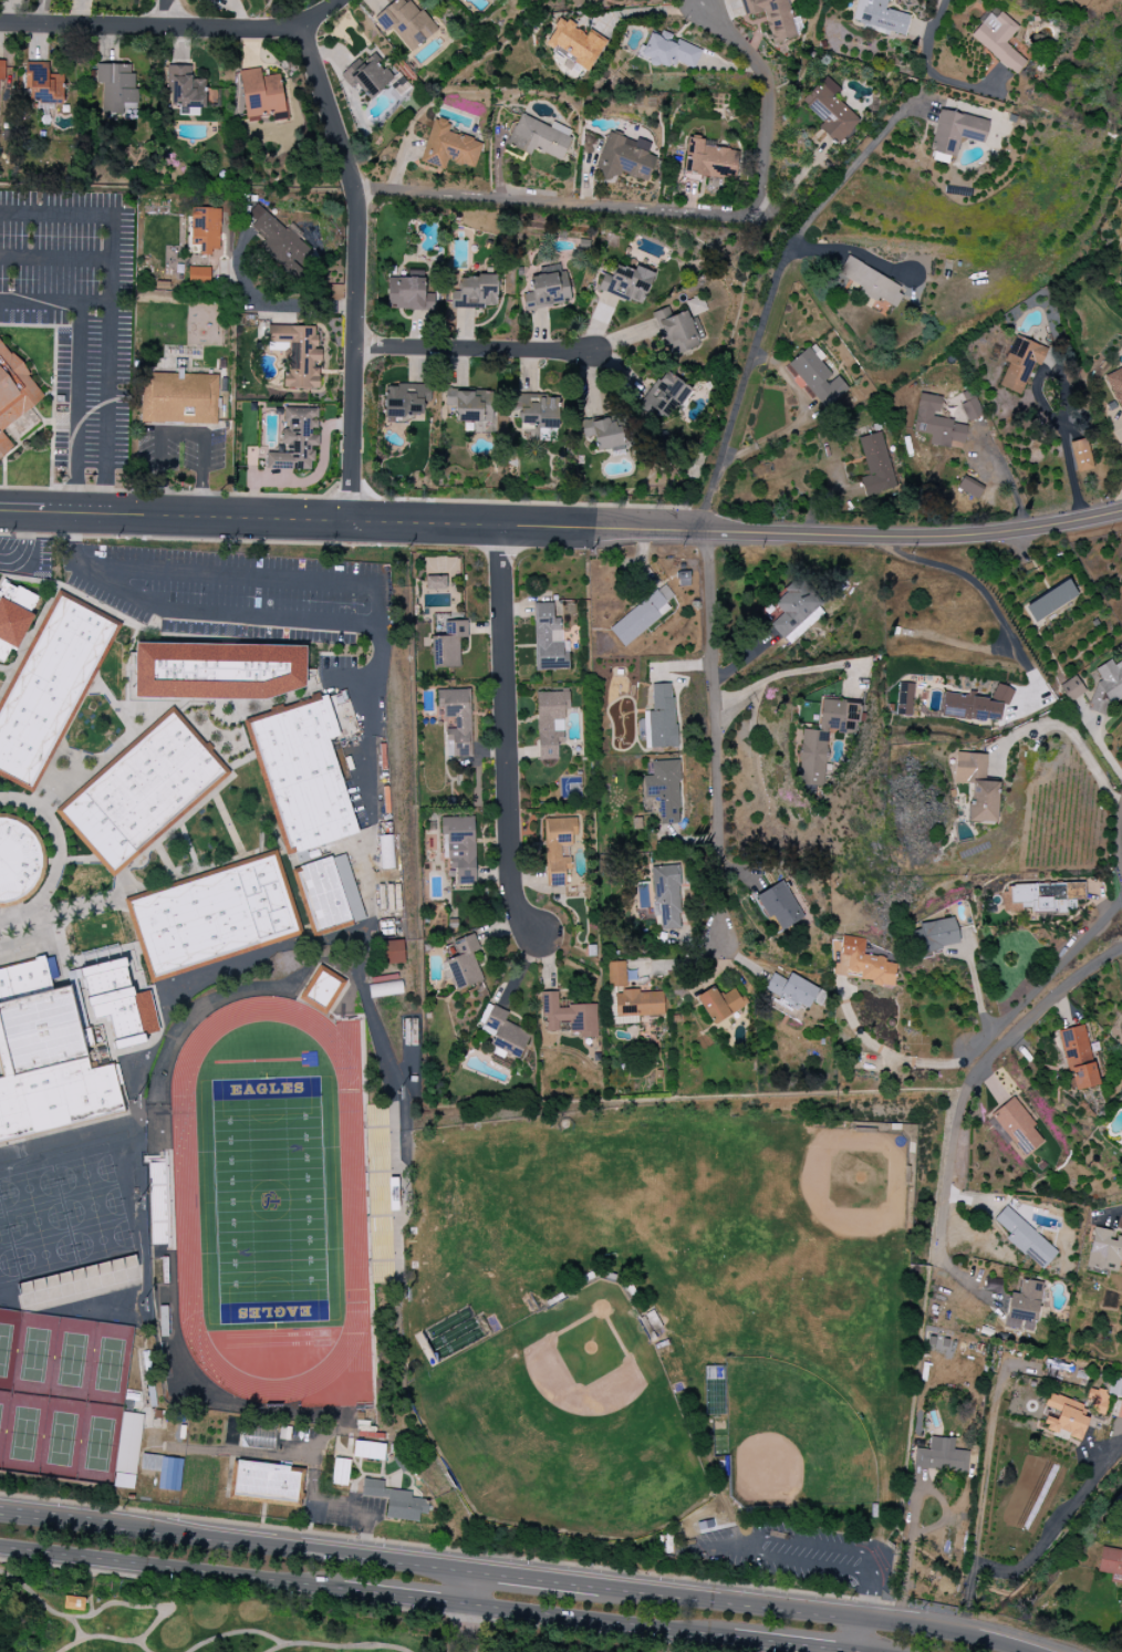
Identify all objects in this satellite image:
road: (39, 11)
road: (647, 11)
road: (169, 13)
building: (772, 17)
building: (879, 17)
building: (406, 23)
road: (937, 24)
road: (174, 27)
building: (998, 39)
building: (574, 43)
building: (669, 51)
building: (367, 76)
building: (42, 84)
building: (0, 85)
building: (115, 86)
building: (184, 91)
building: (260, 93)
road: (762, 96)
building: (830, 111)
building: (954, 134)
building: (539, 137)
building: (448, 147)
building: (624, 157)
building: (708, 159)
road: (552, 202)
building: (205, 229)
building: (279, 242)
road: (54, 257)
road: (359, 267)
building: (198, 276)
building: (871, 282)
building: (626, 283)
building: (546, 290)
building: (474, 291)
building: (409, 292)
road: (769, 297)
road: (54, 302)
building: (695, 305)
road: (107, 309)
road: (280, 309)
building: (674, 332)
road: (944, 341)
road: (475, 350)
building: (297, 354)
building: (1020, 363)
building: (815, 377)
road: (53, 380)
building: (1115, 385)
building: (13, 393)
building: (665, 394)
building: (178, 398)
building: (405, 399)
building: (461, 404)
road: (76, 408)
building: (970, 409)
building: (536, 411)
road: (1050, 413)
building: (936, 423)
building: (610, 434)
road: (180, 437)
building: (294, 440)
building: (1081, 455)
building: (875, 465)
building: (969, 488)
road: (176, 492)
road: (562, 528)
road: (263, 541)
road: (24, 546)
road: (248, 574)
building: (435, 584)
road: (983, 591)
parking lot: (292, 596)
building: (1050, 601)
building: (796, 610)
building: (15, 616)
road: (247, 616)
building: (641, 616)
building: (548, 640)
building: (447, 645)
road: (22, 652)
road: (791, 672)
building: (216, 673)
road: (350, 678)
building: (50, 686)
building: (1107, 686)
building: (1071, 688)
building: (904, 699)
building: (975, 705)
road: (113, 707)
building: (661, 717)
building: (456, 720)
building: (550, 723)
road: (503, 734)
road: (1071, 737)
building: (824, 738)
road: (719, 748)
road: (105, 760)
road: (240, 761)
building: (302, 772)
building: (976, 786)
building: (664, 789)
building: (142, 791)
road: (227, 823)
road: (187, 845)
building: (459, 846)
building: (558, 849)
building: (385, 852)
road: (58, 856)
building: (308, 858)
road: (164, 859)
building: (19, 860)
road: (187, 873)
building: (347, 887)
building: (321, 896)
building: (666, 896)
building: (1041, 896)
building: (779, 905)
road: (60, 912)
building: (212, 916)
building: (936, 935)
building: (392, 952)
building: (464, 963)
building: (864, 963)
building: (51, 968)
building: (615, 974)
building: (385, 989)
building: (322, 990)
building: (790, 991)
building: (117, 1000)
building: (638, 1004)
building: (720, 1004)
building: (569, 1016)
building: (505, 1032)
road: (990, 1036)
building: (48, 1058)
building: (1078, 1058)
road: (978, 1067)
building: (1017, 1128)
park: (269, 1201)
track: (353, 1202)
road: (1119, 1211)
park: (61, 1218)
building: (1025, 1238)
building: (1104, 1250)
park: (693, 1271)
building: (81, 1281)
building: (1024, 1307)
park: (8, 1347)
park: (34, 1355)
park: (72, 1360)
park: (110, 1365)
building: (1116, 1392)
building: (1097, 1400)
park: (3, 1419)
building: (1064, 1419)
park: (564, 1426)
park: (23, 1435)
building: (371, 1435)
building: (258, 1437)
park: (61, 1440)
park: (98, 1444)
building: (132, 1445)
building: (370, 1451)
road: (247, 1452)
building: (941, 1456)
building: (403, 1462)
building: (153, 1464)
building: (341, 1472)
building: (267, 1484)
building: (395, 1500)
road: (343, 1510)
road: (262, 1515)
road: (911, 1516)
road: (978, 1516)
road: (1052, 1527)
road: (724, 1546)
road: (447, 1548)
parking lot: (798, 1554)
building: (1110, 1560)
road: (172, 1569)
road: (515, 1577)
building: (1121, 1585)
road: (467, 1588)
road: (404, 1597)
building: (73, 1602)
park: (330, 1610)
road: (863, 1613)
road: (596, 1620)
road: (461, 1628)
road: (790, 1644)

